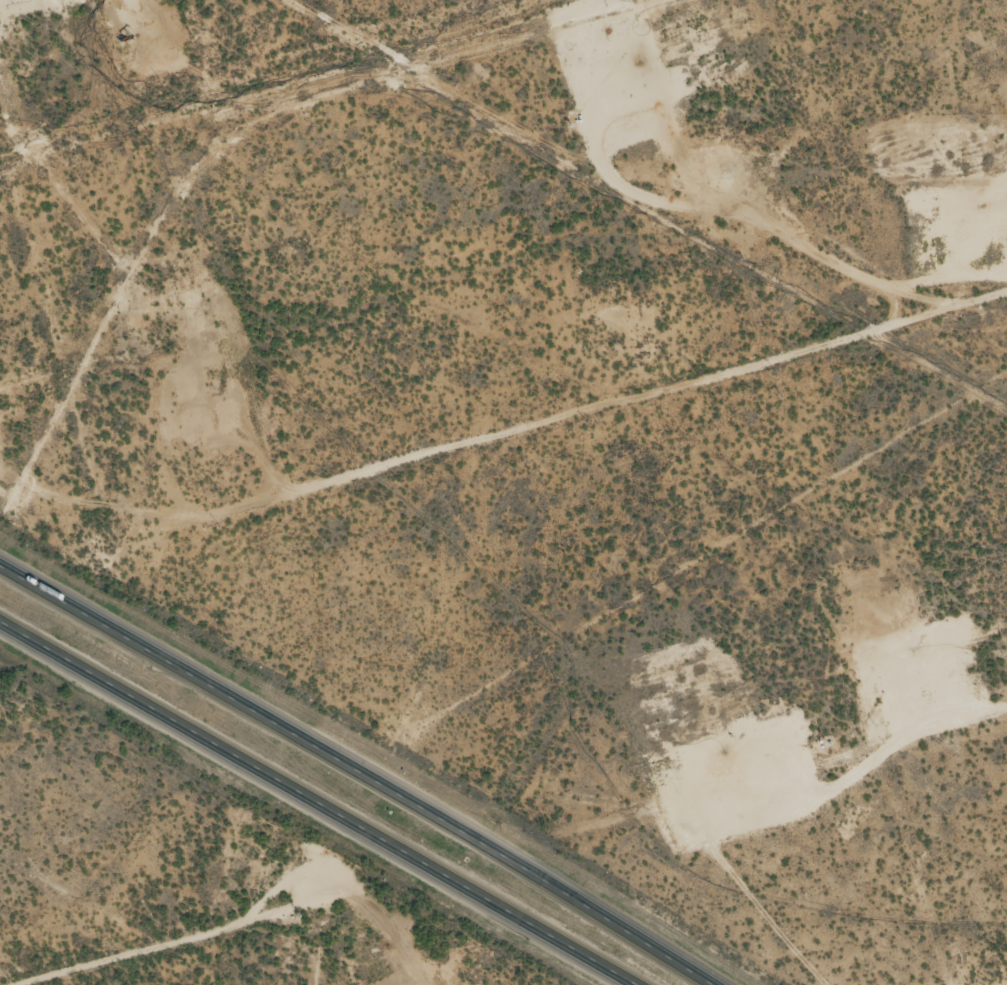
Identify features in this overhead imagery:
road: (551, 483)
road: (354, 772)
road: (318, 803)
road: (770, 807)
road: (268, 931)

